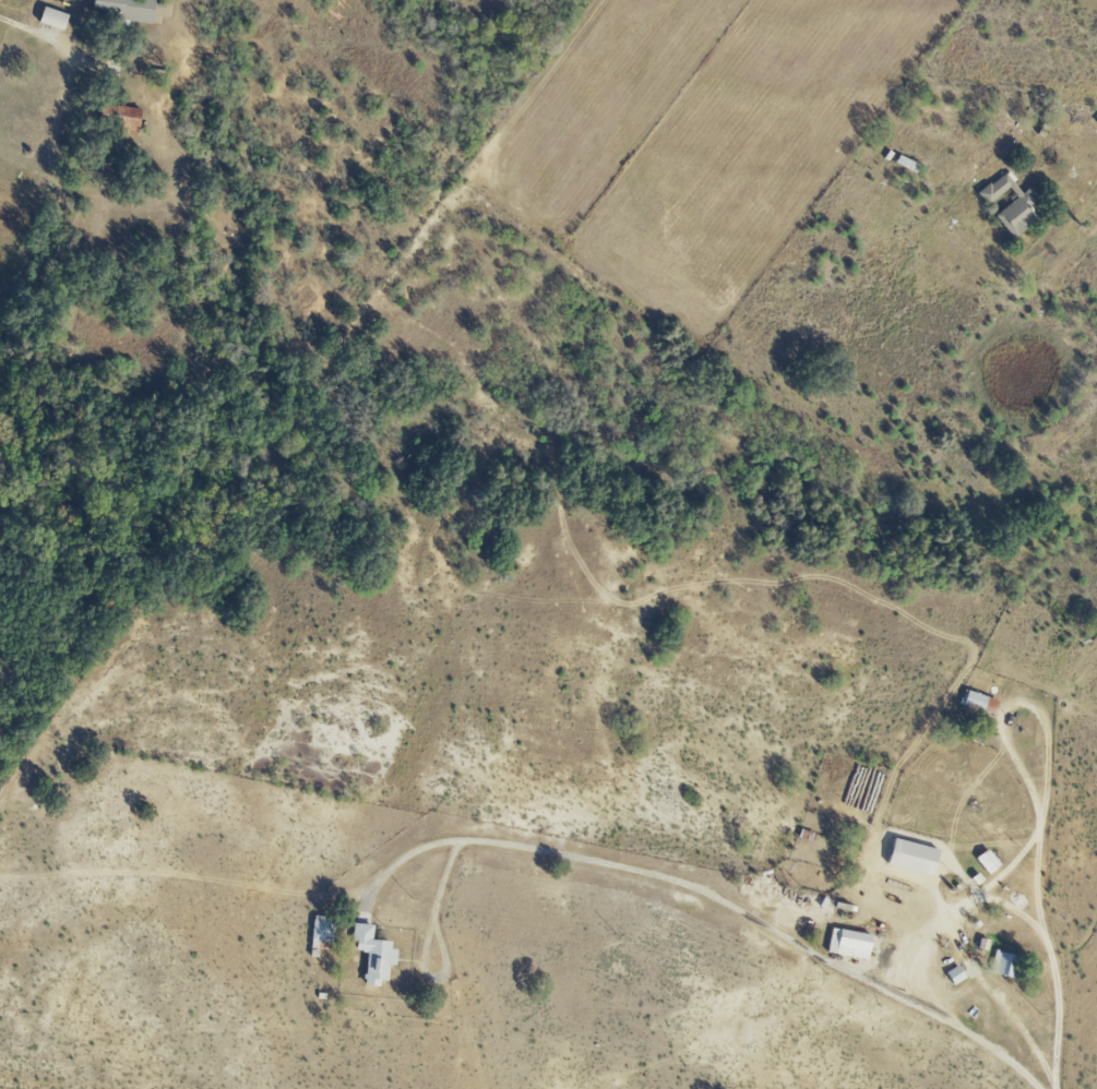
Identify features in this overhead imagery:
building: (132, 9)
building: (56, 19)
road: (22, 28)
building: (122, 117)
road: (1087, 188)
building: (1013, 205)
road: (1015, 701)
building: (980, 702)
building: (916, 857)
building: (990, 861)
road: (705, 894)
building: (323, 931)
building: (851, 944)
road: (904, 945)
building: (377, 954)
road: (958, 954)
road: (1049, 958)
building: (1005, 964)
building: (957, 974)
road: (1057, 1084)

